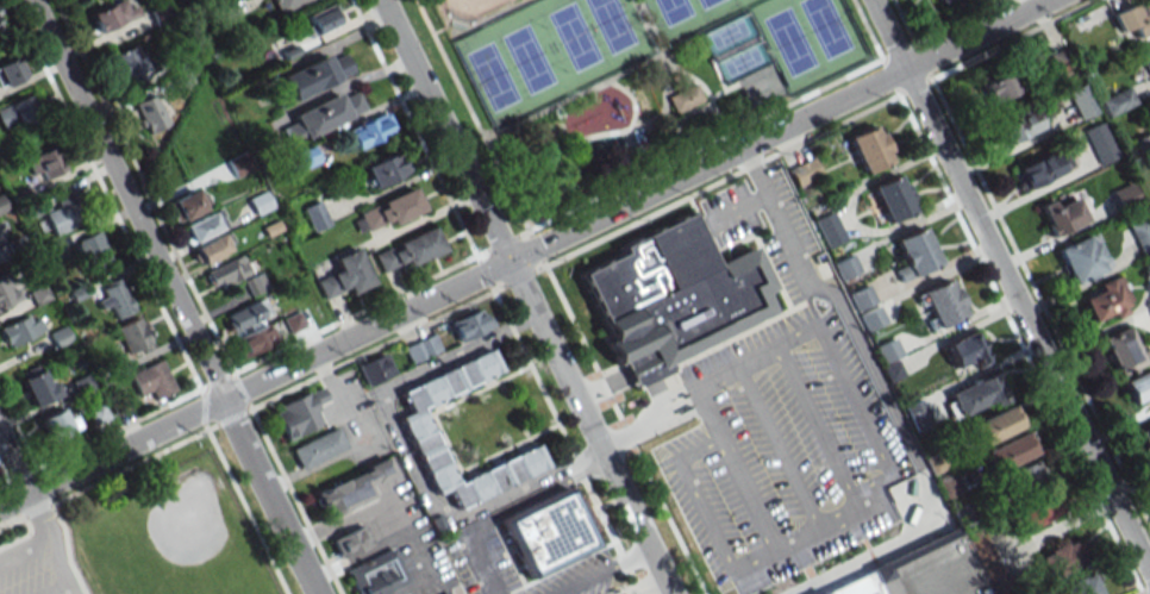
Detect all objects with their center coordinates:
building: (933, 0)
road: (237, 4)
building: (286, 4)
park: (471, 7)
building: (223, 12)
building: (114, 14)
building: (161, 14)
park: (689, 15)
building: (323, 18)
building: (1133, 18)
road: (354, 21)
building: (0, 23)
road: (868, 31)
park: (807, 39)
park: (735, 46)
building: (289, 51)
road: (320, 51)
road: (335, 51)
park: (548, 52)
building: (182, 58)
building: (1146, 60)
building: (129, 64)
building: (326, 69)
building: (11, 71)
building: (182, 81)
building: (292, 86)
road: (340, 86)
park: (625, 86)
building: (999, 86)
road: (345, 90)
building: (685, 98)
building: (1081, 101)
building: (1118, 101)
building: (338, 107)
building: (17, 112)
building: (149, 113)
road: (365, 114)
road: (473, 118)
building: (304, 124)
building: (1018, 125)
building: (370, 129)
road: (414, 130)
building: (1100, 143)
road: (701, 146)
building: (869, 148)
building: (300, 158)
building: (44, 164)
building: (239, 164)
building: (1040, 168)
building: (382, 169)
building: (805, 171)
road: (718, 182)
road: (392, 187)
road: (144, 189)
building: (1125, 195)
road: (107, 196)
road: (130, 198)
building: (894, 198)
road: (639, 200)
building: (261, 202)
building: (1, 205)
building: (187, 205)
building: (392, 208)
building: (64, 213)
building: (1062, 214)
building: (315, 215)
road: (423, 219)
building: (204, 226)
building: (271, 229)
building: (831, 230)
road: (494, 231)
building: (1140, 233)
road: (501, 243)
road: (537, 248)
building: (212, 249)
building: (410, 249)
building: (918, 251)
building: (93, 254)
building: (1081, 258)
building: (846, 267)
road: (485, 274)
building: (223, 275)
building: (345, 275)
road: (519, 279)
building: (254, 285)
road: (1012, 286)
road: (400, 287)
building: (7, 292)
building: (671, 295)
building: (862, 298)
building: (114, 300)
building: (1105, 300)
building: (943, 302)
road: (358, 313)
building: (245, 314)
building: (874, 317)
building: (293, 323)
building: (468, 325)
building: (20, 329)
building: (133, 336)
road: (799, 336)
building: (255, 339)
building: (430, 345)
road: (375, 349)
building: (889, 350)
building: (414, 351)
building: (1124, 351)
building: (964, 352)
building: (375, 369)
road: (532, 370)
road: (730, 371)
building: (892, 371)
building: (152, 380)
road: (219, 380)
building: (38, 386)
building: (1138, 386)
road: (242, 392)
building: (976, 394)
road: (857, 401)
road: (887, 401)
road: (205, 409)
road: (711, 412)
building: (300, 413)
building: (918, 414)
road: (231, 418)
road: (255, 418)
road: (814, 421)
building: (994, 424)
building: (57, 425)
road: (643, 425)
road: (120, 427)
road: (624, 427)
building: (417, 430)
road: (18, 431)
building: (1145, 436)
road: (445, 442)
road: (129, 444)
building: (319, 448)
road: (779, 450)
building: (1007, 451)
parking lot: (783, 454)
road: (411, 459)
road: (14, 461)
building: (936, 463)
road: (135, 465)
road: (4, 473)
road: (21, 476)
building: (1025, 476)
road: (5, 483)
building: (948, 486)
road: (873, 487)
building: (350, 488)
road: (543, 494)
road: (752, 494)
road: (270, 495)
road: (15, 500)
road: (36, 505)
road: (855, 505)
building: (1036, 507)
road: (246, 508)
road: (39, 512)
building: (962, 514)
road: (707, 515)
road: (13, 524)
road: (50, 524)
road: (639, 527)
road: (819, 531)
park: (183, 532)
building: (548, 532)
road: (21, 536)
road: (399, 536)
building: (351, 540)
building: (981, 546)
road: (67, 550)
building: (1058, 558)
road: (477, 561)
parking lot: (36, 567)
building: (930, 569)
road: (606, 571)
building: (377, 574)
building: (995, 579)
building: (856, 586)
road: (55, 588)
building: (443, 593)
building: (449, 593)
parking lot: (612, 593)

